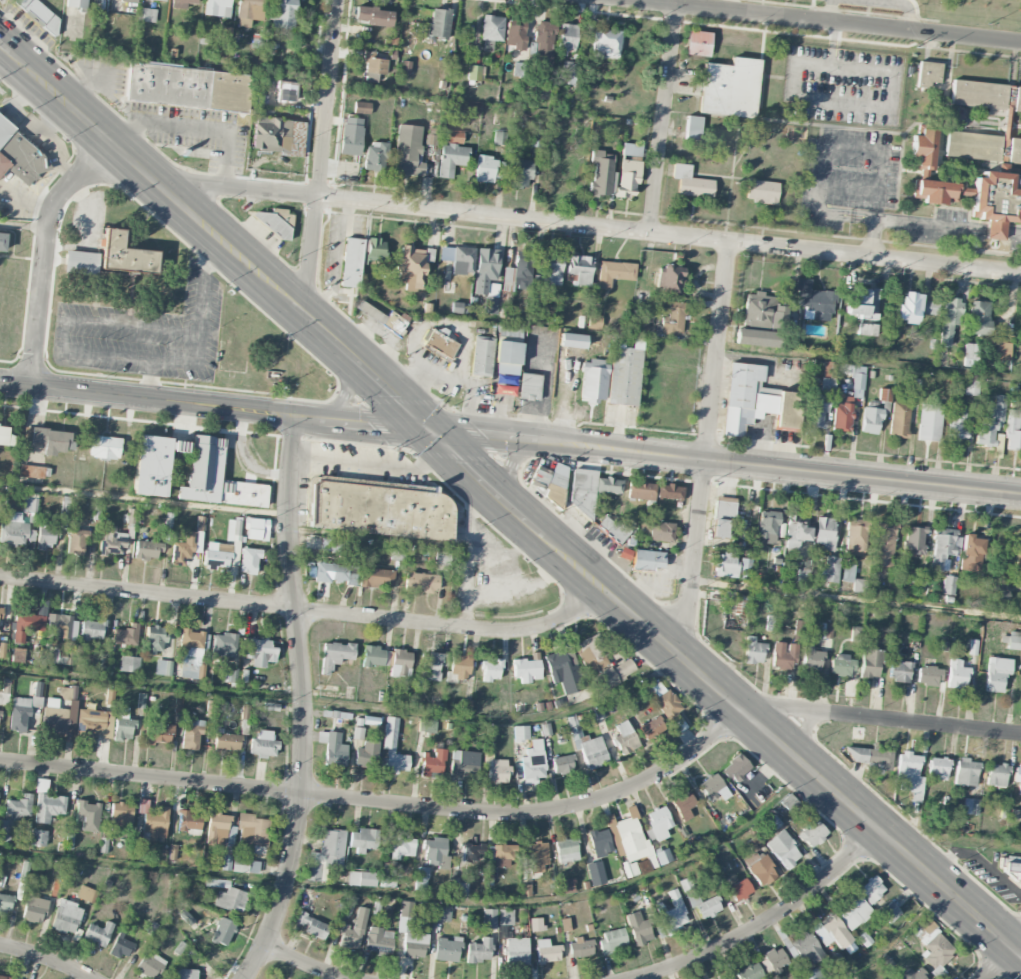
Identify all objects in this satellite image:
building: (160, 0)
building: (129, 1)
road: (902, 2)
building: (77, 3)
building: (182, 3)
road: (896, 3)
road: (726, 5)
road: (761, 7)
building: (217, 8)
road: (830, 11)
building: (249, 12)
parking lot: (868, 13)
building: (38, 14)
building: (283, 14)
building: (147, 15)
building: (373, 16)
road: (825, 21)
building: (438, 24)
building: (491, 28)
building: (515, 34)
building: (566, 37)
building: (606, 43)
building: (697, 44)
building: (544, 45)
building: (487, 46)
building: (373, 66)
building: (474, 73)
building: (928, 74)
building: (188, 87)
building: (730, 88)
building: (541, 91)
building: (285, 92)
building: (985, 95)
road: (835, 104)
building: (362, 108)
road: (663, 119)
road: (195, 127)
building: (693, 128)
building: (279, 136)
building: (351, 136)
building: (453, 136)
building: (431, 137)
building: (499, 138)
road: (111, 141)
building: (983, 147)
building: (923, 149)
building: (408, 151)
road: (319, 154)
building: (20, 156)
building: (376, 157)
road: (822, 157)
building: (451, 159)
building: (484, 169)
building: (520, 172)
building: (601, 173)
building: (628, 179)
building: (691, 183)
building: (935, 191)
building: (762, 192)
building: (997, 197)
building: (279, 213)
road: (831, 214)
building: (272, 223)
road: (23, 226)
road: (595, 227)
road: (947, 227)
road: (872, 233)
building: (2, 240)
building: (373, 250)
road: (44, 251)
building: (125, 255)
building: (463, 260)
building: (81, 263)
building: (351, 263)
building: (487, 264)
building: (413, 266)
building: (552, 269)
building: (580, 269)
building: (614, 273)
building: (669, 279)
road: (204, 284)
building: (491, 298)
building: (814, 300)
building: (863, 304)
building: (459, 308)
building: (913, 308)
building: (758, 309)
building: (979, 318)
road: (72, 319)
building: (674, 319)
building: (949, 319)
building: (394, 322)
building: (594, 322)
building: (756, 338)
building: (572, 341)
building: (441, 342)
building: (1003, 350)
building: (508, 352)
road: (160, 354)
building: (482, 355)
building: (970, 355)
road: (869, 361)
building: (624, 373)
building: (506, 374)
building: (856, 379)
building: (593, 380)
road: (385, 385)
building: (529, 386)
building: (885, 395)
building: (756, 401)
road: (217, 406)
building: (815, 410)
building: (842, 413)
building: (899, 418)
building: (871, 420)
building: (990, 420)
building: (929, 422)
building: (956, 424)
building: (1012, 430)
traffic signals: (436, 431)
building: (5, 436)
building: (49, 440)
building: (181, 446)
building: (104, 447)
road: (707, 447)
road: (728, 463)
road: (385, 464)
building: (152, 466)
building: (32, 471)
building: (551, 475)
building: (216, 478)
building: (589, 489)
building: (640, 490)
building: (669, 492)
road: (145, 498)
building: (29, 505)
building: (379, 510)
building: (723, 517)
building: (644, 525)
building: (767, 526)
building: (257, 529)
building: (613, 529)
building: (16, 530)
building: (233, 530)
building: (662, 531)
building: (796, 531)
building: (825, 533)
building: (854, 537)
building: (45, 539)
building: (914, 540)
building: (76, 542)
building: (883, 544)
building: (332, 545)
road: (507, 547)
building: (943, 547)
building: (184, 548)
road: (562, 549)
building: (147, 550)
road: (469, 552)
building: (971, 553)
building: (1019, 553)
building: (217, 555)
building: (442, 558)
building: (249, 560)
building: (647, 561)
building: (726, 565)
building: (831, 569)
building: (334, 573)
building: (848, 573)
building: (376, 578)
building: (421, 582)
road: (524, 583)
building: (948, 585)
road: (857, 599)
building: (739, 604)
road: (308, 612)
building: (1, 613)
building: (26, 625)
building: (60, 629)
building: (92, 630)
building: (824, 630)
building: (856, 633)
building: (126, 635)
building: (155, 638)
building: (1014, 640)
building: (223, 644)
building: (259, 651)
building: (753, 651)
building: (190, 653)
building: (591, 653)
building: (17, 655)
building: (335, 655)
building: (63, 656)
building: (375, 656)
building: (783, 656)
building: (811, 659)
building: (401, 663)
building: (870, 663)
building: (129, 664)
building: (432, 666)
building: (842, 666)
building: (163, 667)
building: (460, 667)
building: (526, 668)
building: (491, 670)
building: (899, 671)
building: (564, 673)
building: (957, 674)
building: (996, 675)
building: (612, 676)
building: (928, 676)
building: (4, 694)
building: (37, 694)
building: (661, 697)
road: (305, 702)
road: (345, 706)
building: (465, 706)
building: (273, 707)
building: (210, 708)
building: (246, 712)
building: (19, 713)
building: (54, 717)
road: (887, 719)
building: (95, 723)
building: (123, 724)
building: (427, 725)
building: (652, 728)
building: (521, 733)
building: (158, 734)
building: (192, 735)
building: (625, 737)
building: (227, 742)
building: (263, 744)
building: (588, 747)
building: (393, 748)
building: (333, 749)
building: (367, 754)
road: (800, 759)
building: (871, 759)
building: (533, 762)
building: (433, 764)
building: (563, 764)
building: (464, 765)
building: (736, 768)
building: (496, 769)
building: (937, 769)
building: (966, 772)
building: (909, 775)
building: (997, 775)
building: (1018, 776)
building: (712, 786)
road: (385, 803)
building: (19, 806)
building: (684, 806)
building: (970, 806)
building: (49, 807)
building: (120, 815)
building: (88, 816)
building: (189, 821)
building: (153, 822)
building: (658, 824)
building: (217, 829)
building: (4, 830)
building: (253, 830)
building: (813, 834)
building: (38, 837)
building: (363, 840)
building: (600, 842)
building: (631, 842)
road: (979, 843)
building: (402, 847)
building: (783, 849)
building: (566, 850)
building: (436, 852)
building: (471, 852)
building: (326, 854)
building: (504, 855)
building: (537, 857)
building: (653, 861)
building: (245, 864)
building: (1011, 866)
building: (760, 869)
building: (596, 873)
building: (455, 876)
building: (362, 878)
building: (421, 878)
building: (387, 881)
building: (565, 886)
building: (458, 889)
building: (871, 889)
building: (739, 890)
building: (525, 891)
building: (86, 894)
road: (421, 895)
building: (231, 900)
building: (6, 903)
building: (349, 906)
building: (34, 909)
building: (853, 910)
building: (890, 912)
building: (442, 913)
building: (674, 916)
building: (66, 917)
building: (505, 918)
building: (489, 919)
road: (768, 921)
building: (535, 924)
building: (565, 925)
building: (312, 926)
building: (639, 928)
building: (353, 930)
building: (222, 931)
building: (410, 932)
building: (833, 933)
building: (98, 934)
road: (895, 936)
building: (379, 940)
building: (612, 940)
building: (933, 943)
building: (121, 948)
building: (581, 948)
building: (806, 948)
building: (447, 949)
building: (480, 950)
building: (517, 951)
building: (547, 951)
road: (46, 958)
building: (776, 959)
road: (1001, 964)
building: (150, 965)
road: (306, 965)
building: (750, 972)
building: (183, 974)
building: (814, 974)
building: (912, 974)
building: (6, 977)
building: (727, 978)

